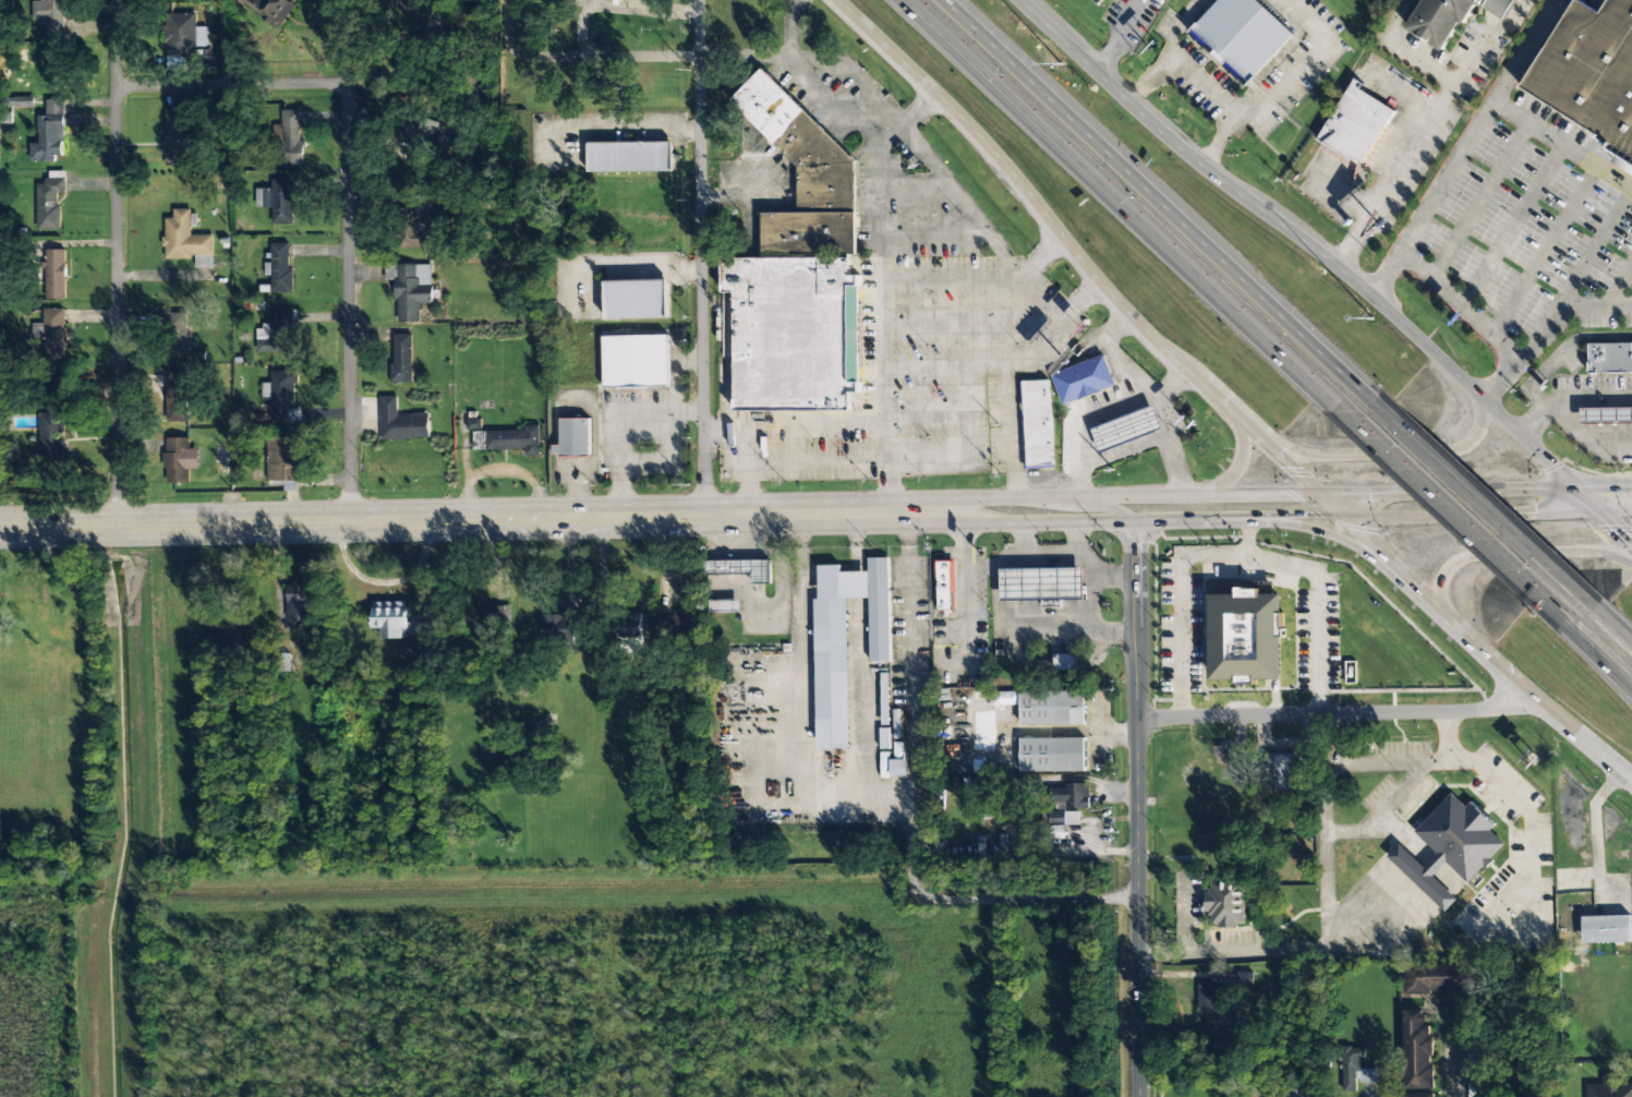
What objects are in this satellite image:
building: (1097, 1)
building: (269, 8)
road: (584, 8)
road: (663, 11)
building: (52, 14)
building: (1453, 17)
building: (179, 31)
building: (1241, 35)
road: (578, 58)
road: (771, 58)
building: (1588, 70)
road: (230, 84)
road: (830, 103)
building: (1355, 122)
building: (421, 129)
road: (612, 129)
building: (176, 132)
building: (48, 134)
parking lot: (592, 135)
building: (290, 137)
road: (1563, 145)
road: (1465, 147)
building: (419, 152)
building: (630, 156)
building: (802, 174)
parking lot: (1537, 191)
building: (278, 195)
road: (1162, 202)
building: (49, 204)
road: (1123, 205)
building: (407, 228)
building: (185, 240)
road: (1311, 244)
road: (1041, 255)
road: (700, 257)
road: (1006, 257)
road: (117, 263)
road: (1088, 265)
building: (280, 267)
building: (55, 274)
building: (409, 288)
road: (881, 290)
building: (636, 299)
road: (1077, 299)
road: (348, 301)
parking lot: (905, 306)
road: (1546, 329)
building: (53, 333)
building: (173, 333)
building: (277, 333)
building: (795, 333)
road: (1561, 351)
road: (1111, 352)
building: (1610, 357)
gas station: (1610, 357)
building: (400, 358)
building: (636, 361)
road: (675, 371)
building: (1081, 379)
gas station: (1081, 379)
building: (178, 396)
building: (283, 396)
road: (1160, 398)
parking lot: (1583, 403)
building: (1606, 414)
parking lot: (1084, 419)
building: (52, 421)
building: (399, 421)
road: (619, 423)
building: (473, 424)
parking lot: (644, 425)
building: (1037, 425)
road: (793, 429)
road: (1008, 429)
building: (1126, 429)
gas station: (1126, 429)
road: (1568, 430)
parking lot: (575, 435)
building: (575, 437)
building: (507, 438)
building: (1068, 446)
road: (1240, 450)
road: (1385, 454)
road: (1105, 456)
building: (177, 459)
building: (283, 459)
road: (1173, 466)
traffic signals: (1293, 467)
road: (747, 472)
road: (1459, 490)
traffic signals: (1363, 493)
road: (575, 494)
road: (1155, 496)
road: (1612, 499)
traffic signals: (1593, 501)
road: (1480, 503)
road: (1109, 504)
road: (1442, 504)
road: (969, 505)
road: (1279, 513)
traffic signals: (1305, 514)
road: (1472, 514)
road: (971, 517)
road: (475, 518)
road: (1098, 518)
road: (1612, 518)
road: (1321, 533)
road: (1520, 552)
road: (1394, 560)
building: (740, 568)
building: (1042, 583)
building: (944, 584)
building: (299, 604)
building: (720, 605)
building: (483, 615)
building: (389, 618)
road: (1607, 620)
building: (678, 622)
building: (628, 626)
building: (556, 627)
building: (1245, 637)
road: (1586, 640)
building: (844, 642)
building: (1064, 661)
road: (1630, 682)
road: (1528, 694)
building: (995, 698)
building: (1052, 707)
road: (1333, 712)
building: (1052, 755)
road: (1335, 764)
building: (893, 767)
building: (1278, 771)
building: (1067, 795)
road: (1135, 806)
road: (1382, 811)
building: (1053, 818)
building: (1449, 848)
building: (1225, 903)
building: (1606, 929)
building: (1440, 978)
building: (1210, 1002)
building: (1418, 1048)
building: (1473, 1068)
building: (1355, 1070)
building: (1609, 1088)
building: (1421, 1095)

